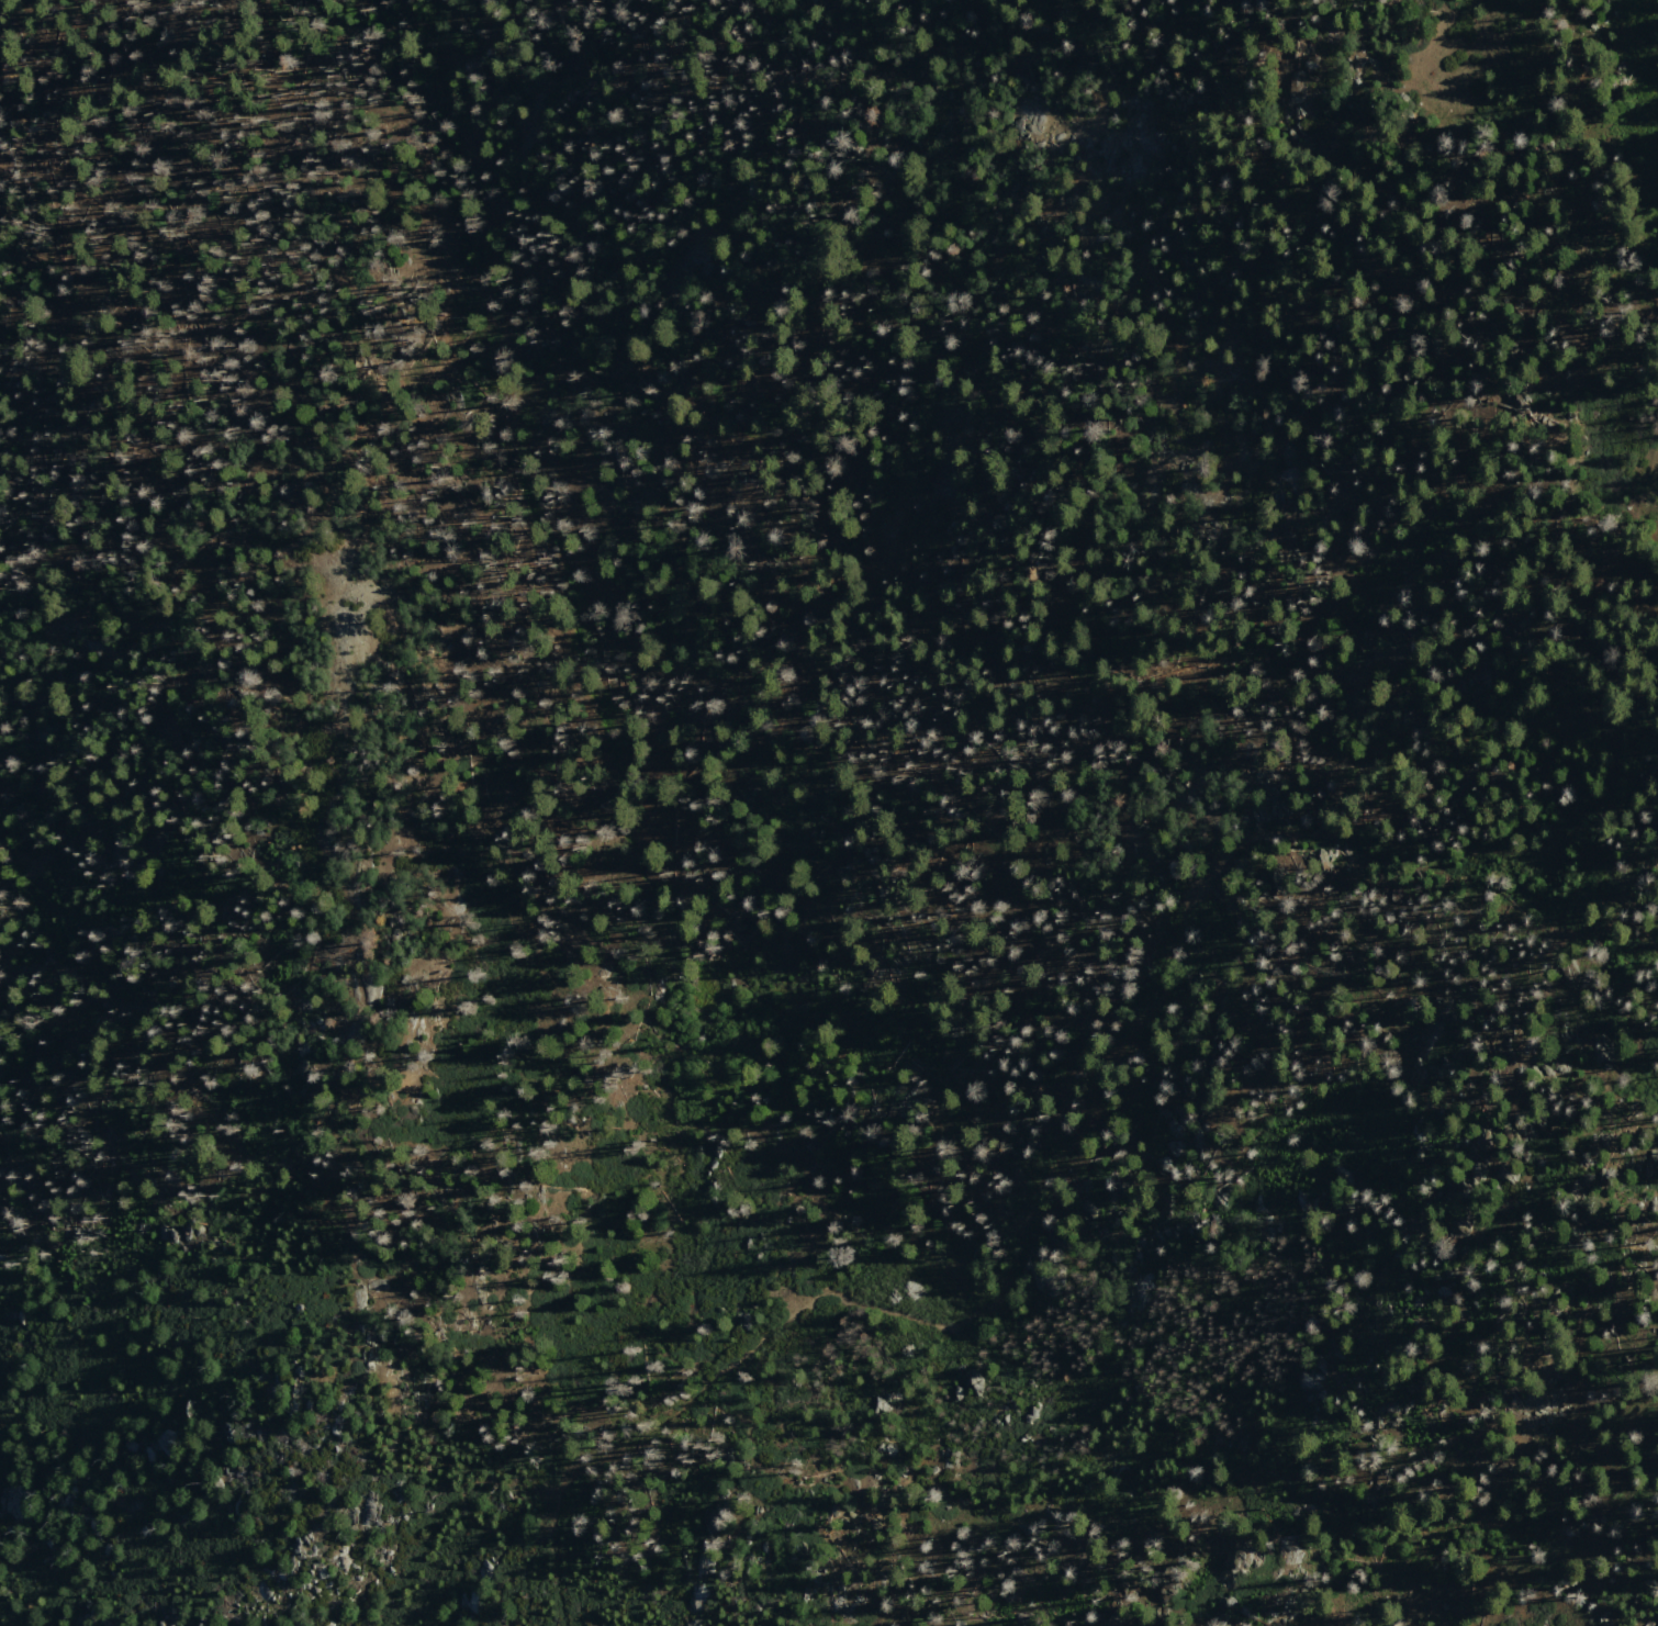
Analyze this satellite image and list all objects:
road: (1643, 92)

